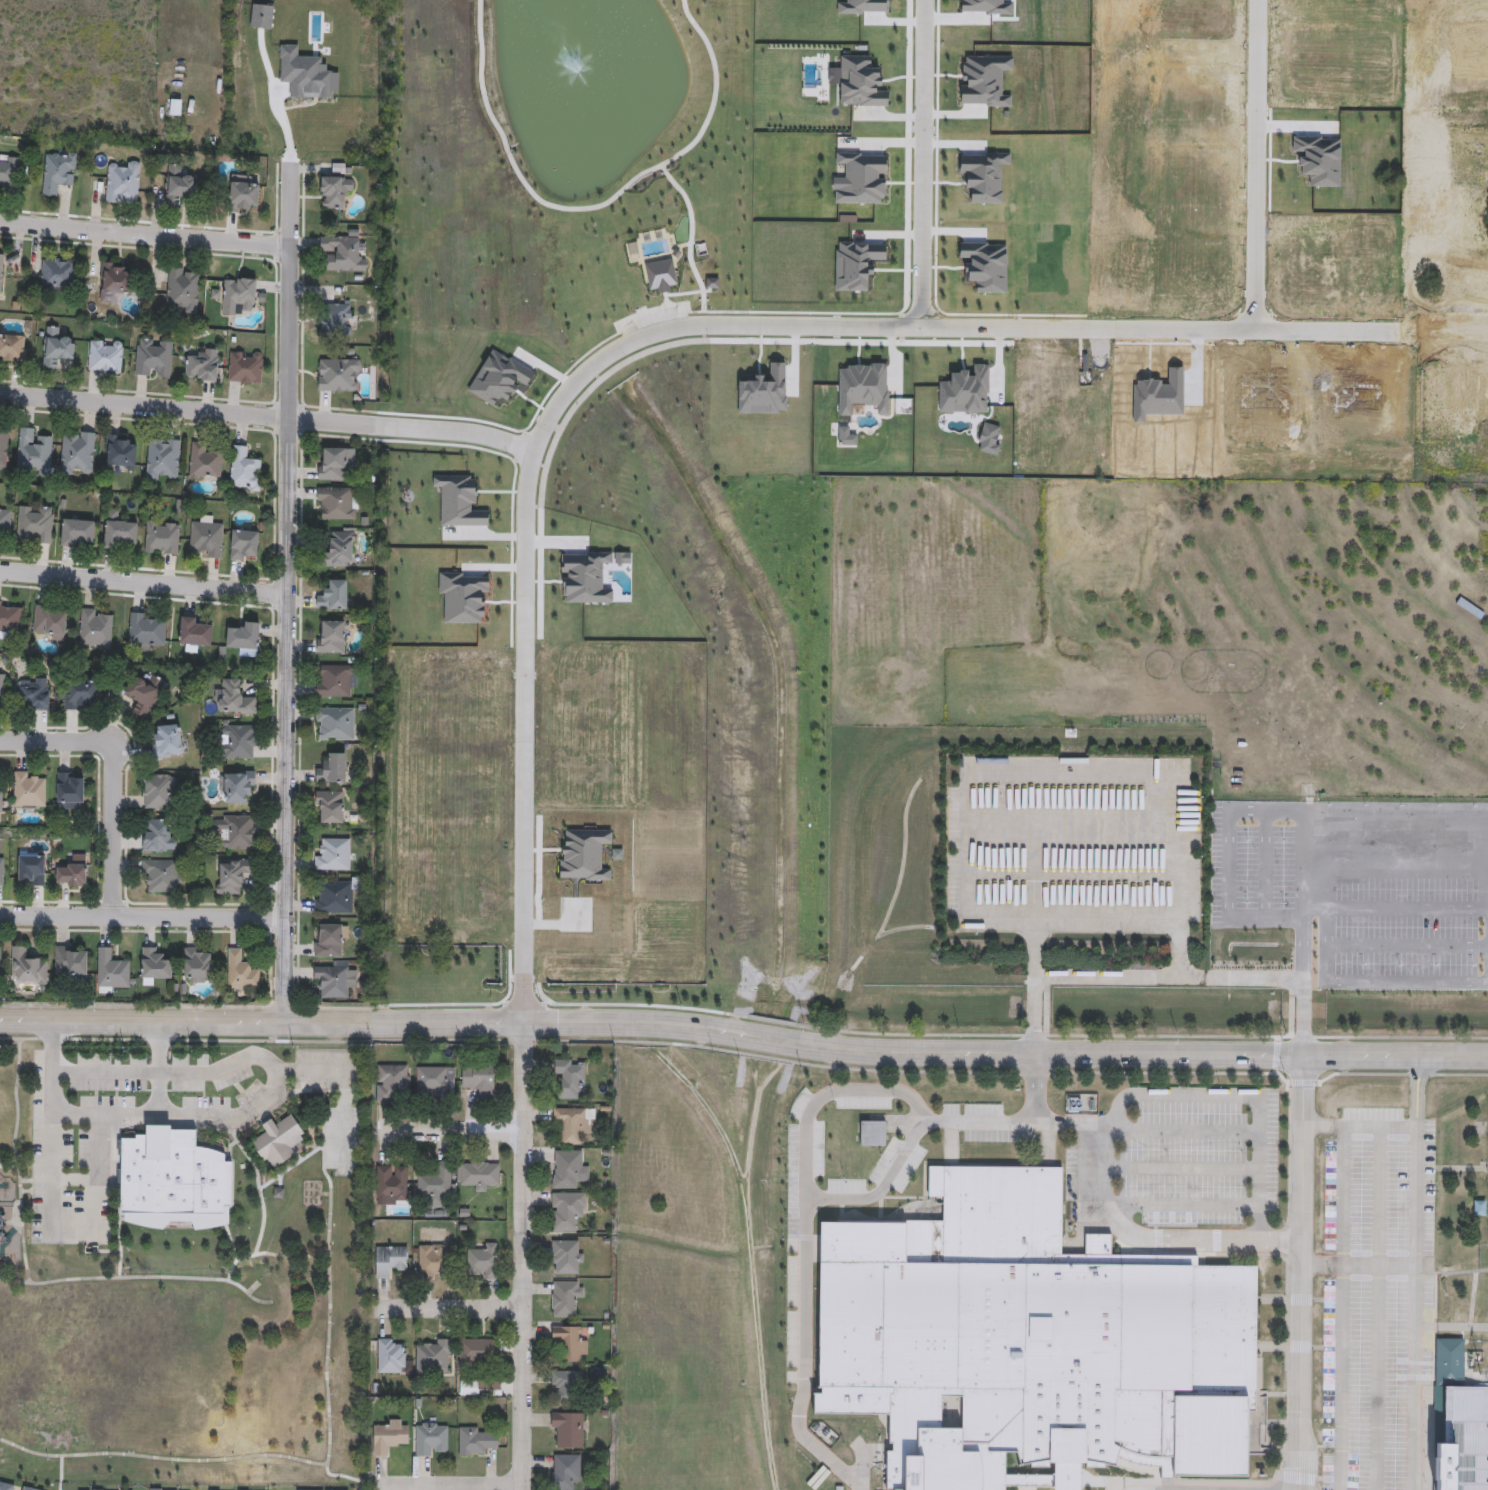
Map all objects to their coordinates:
road: (922, 163)
road: (1254, 166)
building: (8, 174)
building: (57, 174)
building: (121, 184)
building: (177, 186)
building: (334, 193)
building: (241, 195)
road: (595, 206)
road: (145, 232)
road: (695, 241)
building: (341, 255)
building: (1, 270)
building: (56, 276)
building: (660, 276)
building: (113, 284)
building: (182, 292)
building: (238, 296)
building: (335, 319)
parking lot: (653, 321)
road: (655, 332)
building: (55, 349)
building: (11, 351)
building: (105, 357)
building: (152, 360)
building: (201, 367)
building: (244, 369)
building: (338, 376)
road: (266, 415)
building: (3, 447)
building: (118, 452)
building: (32, 454)
building: (76, 456)
building: (162, 461)
building: (202, 464)
building: (331, 466)
building: (244, 471)
building: (337, 504)
building: (33, 525)
building: (4, 526)
building: (75, 533)
building: (117, 533)
building: (161, 539)
building: (205, 539)
building: (242, 546)
building: (338, 550)
road: (144, 581)
road: (288, 589)
building: (331, 597)
building: (9, 619)
building: (49, 623)
building: (94, 630)
building: (146, 632)
building: (193, 633)
building: (242, 638)
building: (330, 639)
building: (334, 682)
building: (2, 691)
building: (142, 694)
building: (33, 695)
building: (77, 695)
building: (233, 699)
building: (333, 725)
building: (238, 743)
building: (166, 744)
building: (330, 770)
road: (1145, 771)
road: (114, 773)
building: (236, 788)
building: (69, 793)
building: (158, 793)
building: (27, 794)
building: (0, 802)
building: (328, 808)
road: (1226, 822)
building: (234, 832)
building: (156, 837)
road: (1037, 840)
road: (1112, 840)
parking lot: (1074, 848)
building: (331, 856)
building: (1, 871)
building: (30, 872)
building: (69, 875)
building: (230, 876)
building: (160, 877)
building: (333, 897)
road: (1039, 909)
road: (143, 915)
road: (1487, 932)
road: (1037, 943)
building: (0, 963)
building: (69, 963)
building: (154, 967)
building: (195, 967)
building: (27, 970)
building: (111, 973)
building: (239, 974)
road: (1171, 978)
building: (330, 983)
road: (370, 1019)
road: (10, 1038)
road: (769, 1038)
road: (264, 1040)
road: (1143, 1056)
road: (160, 1068)
building: (570, 1078)
building: (391, 1081)
building: (433, 1081)
building: (479, 1081)
road: (346, 1083)
road: (1036, 1089)
road: (1417, 1093)
road: (1192, 1095)
road: (73, 1116)
road: (133, 1117)
parking lot: (173, 1118)
road: (943, 1121)
building: (573, 1122)
road: (118, 1124)
road: (1326, 1129)
road: (1381, 1129)
road: (453, 1131)
building: (872, 1133)
building: (278, 1140)
road: (1261, 1157)
road: (300, 1160)
road: (16, 1161)
road: (9, 1167)
building: (568, 1167)
road: (1179, 1167)
building: (479, 1173)
building: (174, 1180)
building: (392, 1181)
building: (436, 1182)
road: (261, 1199)
building: (567, 1209)
road: (1261, 1223)
road: (1283, 1241)
road: (109, 1250)
road: (522, 1254)
road: (291, 1256)
building: (567, 1256)
park: (185, 1257)
building: (389, 1259)
building: (482, 1260)
building: (432, 1261)
road: (1324, 1265)
road: (1379, 1265)
road: (1305, 1273)
road: (203, 1278)
road: (248, 1294)
building: (566, 1297)
parking lot: (1367, 1304)
road: (451, 1307)
road: (1342, 1309)
road: (1416, 1309)
building: (786, 1328)
building: (571, 1341)
building: (1033, 1343)
building: (478, 1349)
building: (390, 1355)
building: (434, 1355)
road: (806, 1360)
building: (786, 1374)
building: (567, 1384)
building: (469, 1386)
building: (1459, 1423)
building: (568, 1429)
building: (389, 1435)
building: (431, 1438)
building: (476, 1440)
road: (309, 1460)
building: (565, 1469)
road: (339, 1475)
road: (453, 1483)
building: (8, 1486)
building: (29, 1488)
building: (163, 1489)
road: (1293, 1489)
parking lot: (1295, 1489)

